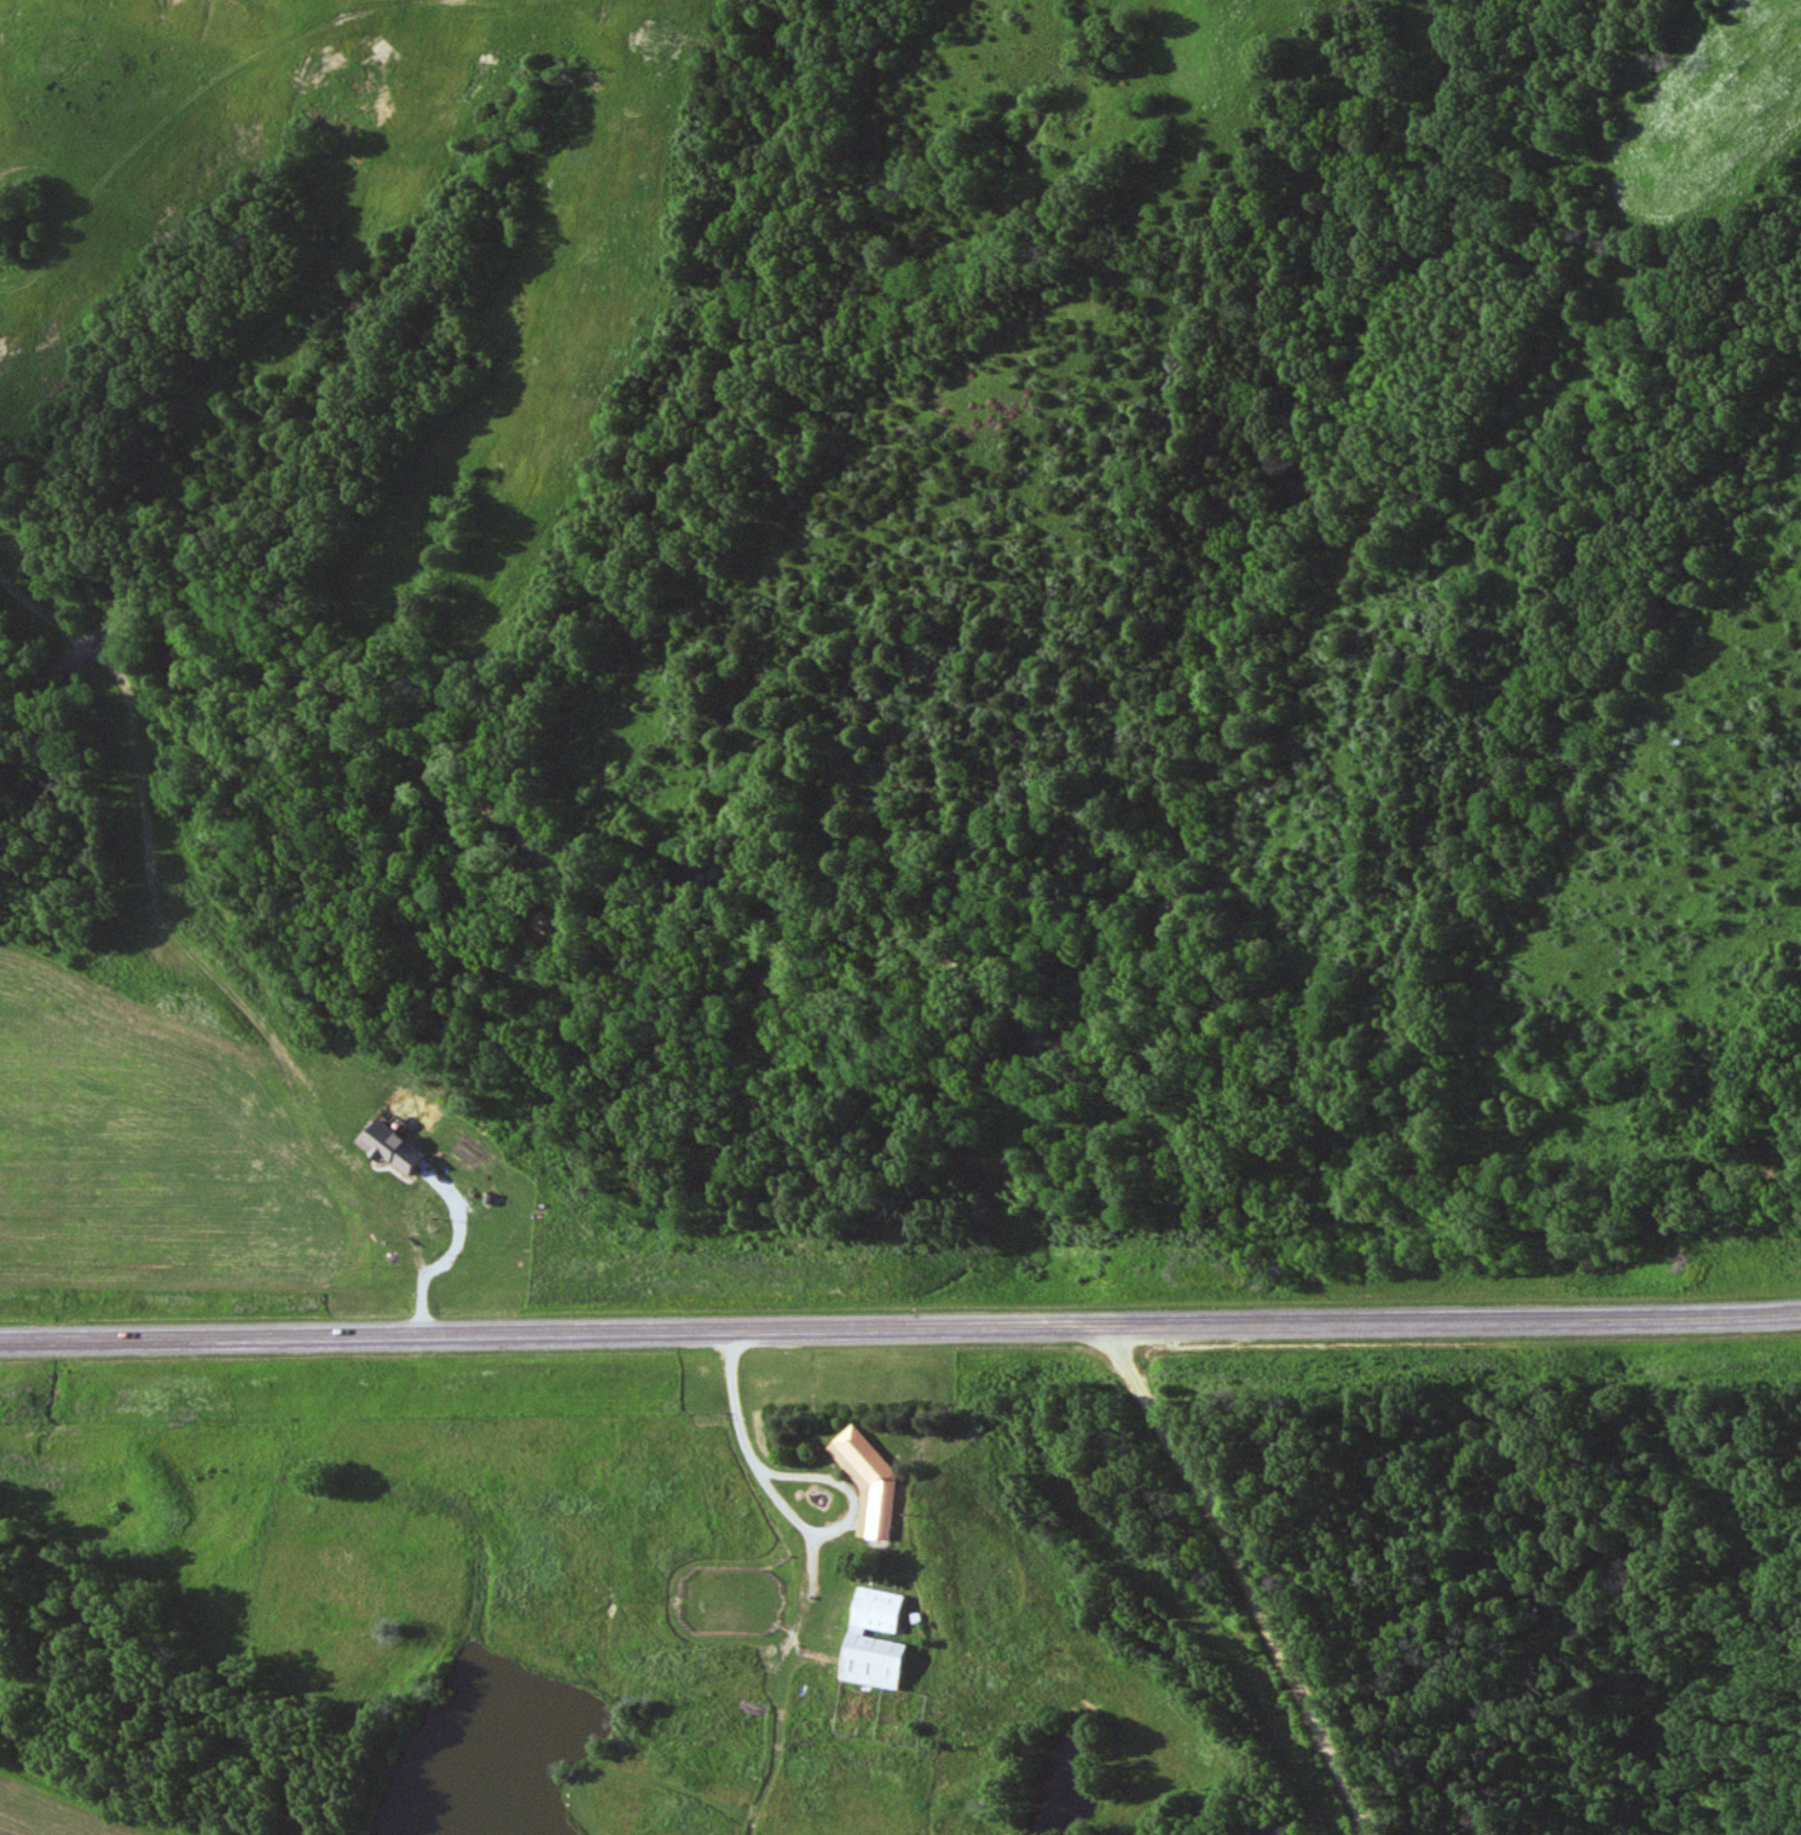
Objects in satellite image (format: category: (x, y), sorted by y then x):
road: (900, 1325)
road: (736, 1406)
building: (865, 1482)
road: (851, 1497)
road: (1244, 1576)
building: (874, 1640)

